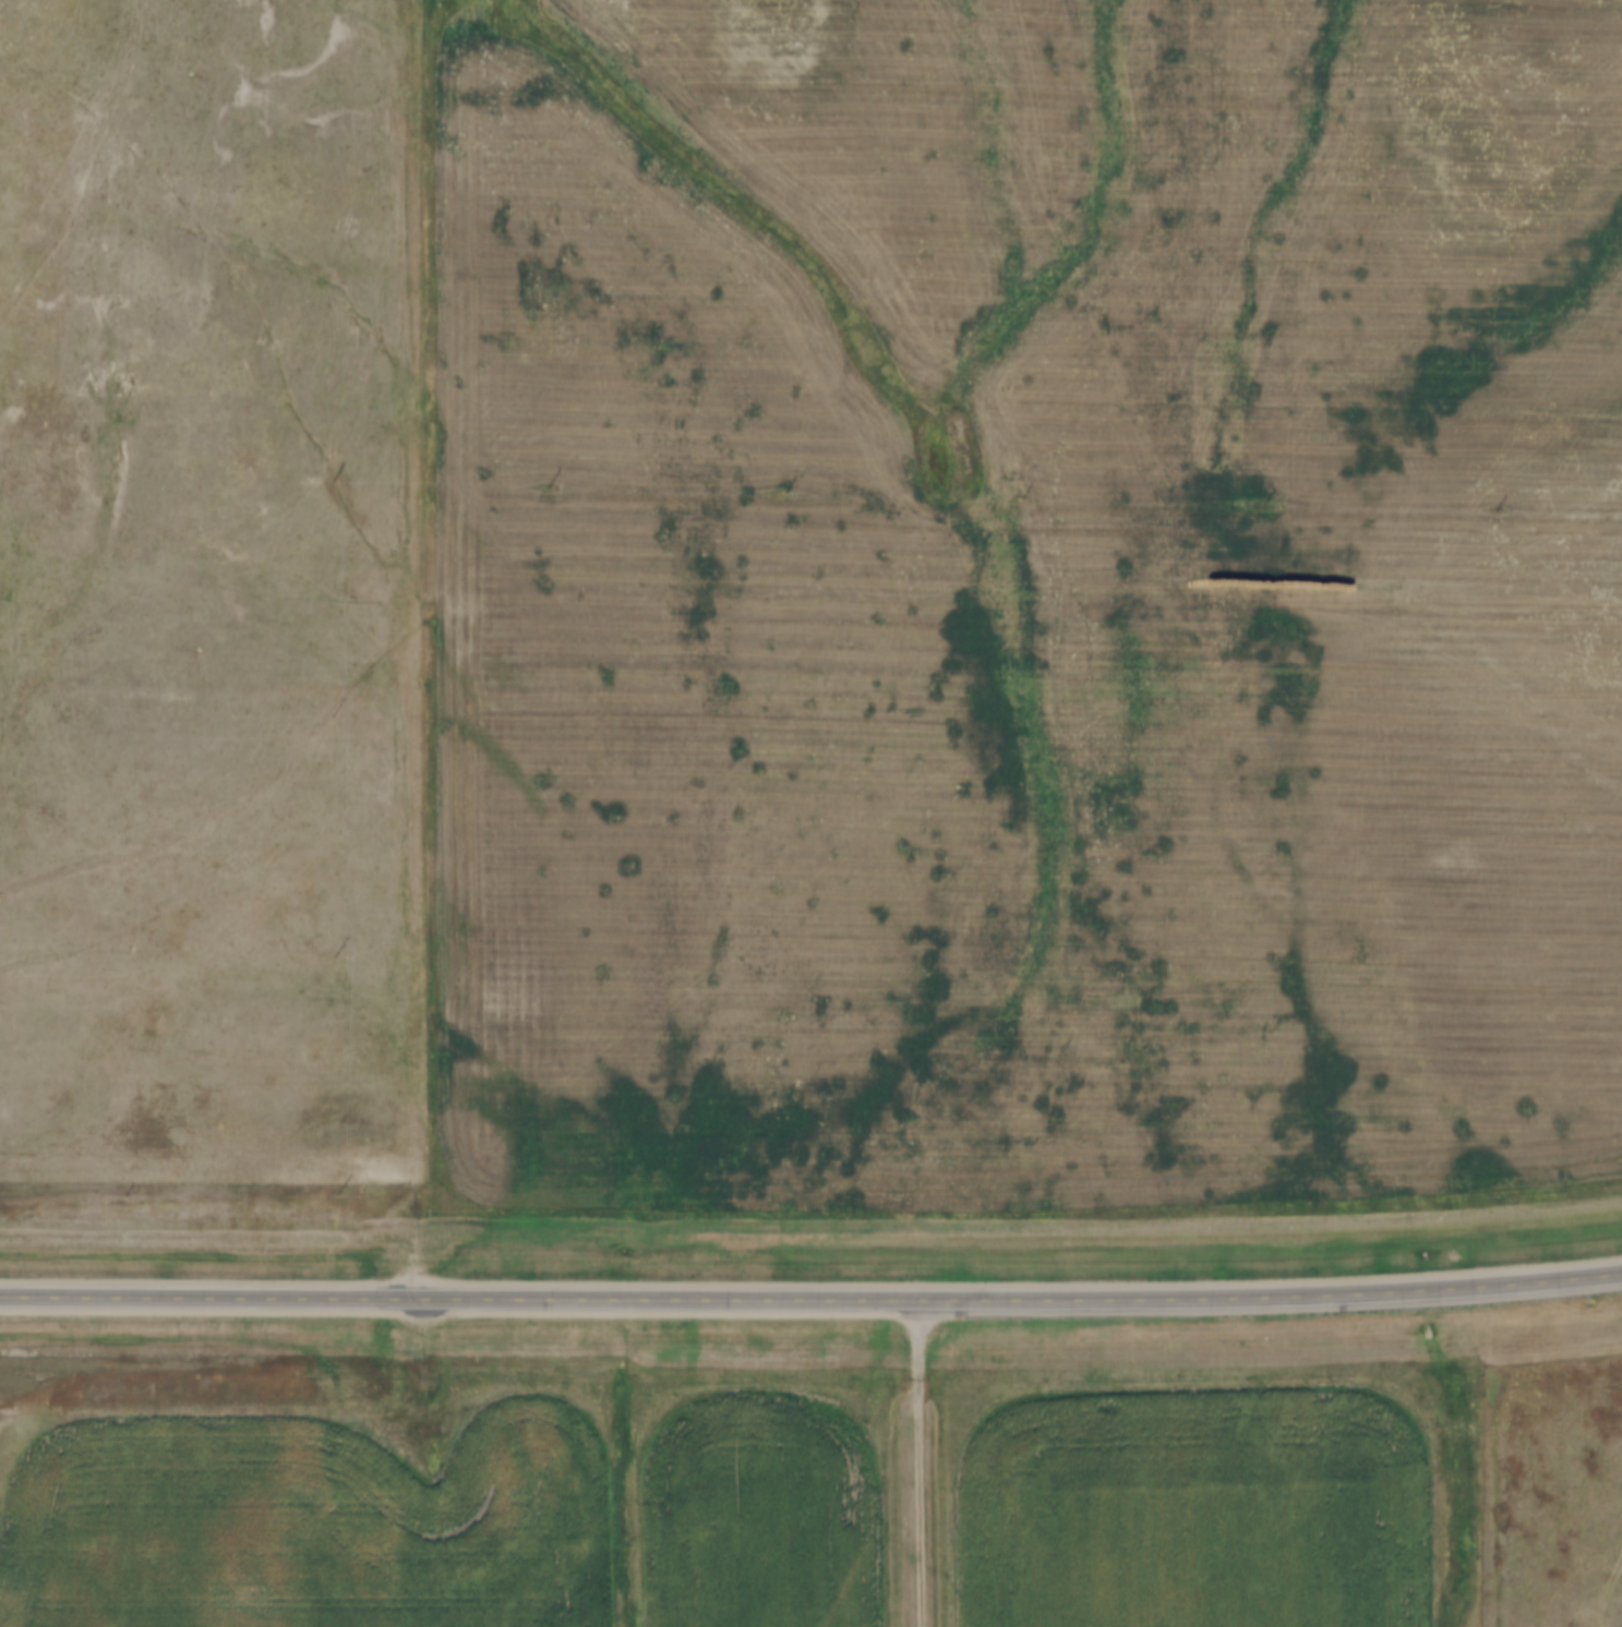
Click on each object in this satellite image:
road: (421, 662)
road: (1272, 1298)
road: (461, 1300)
road: (925, 1465)

